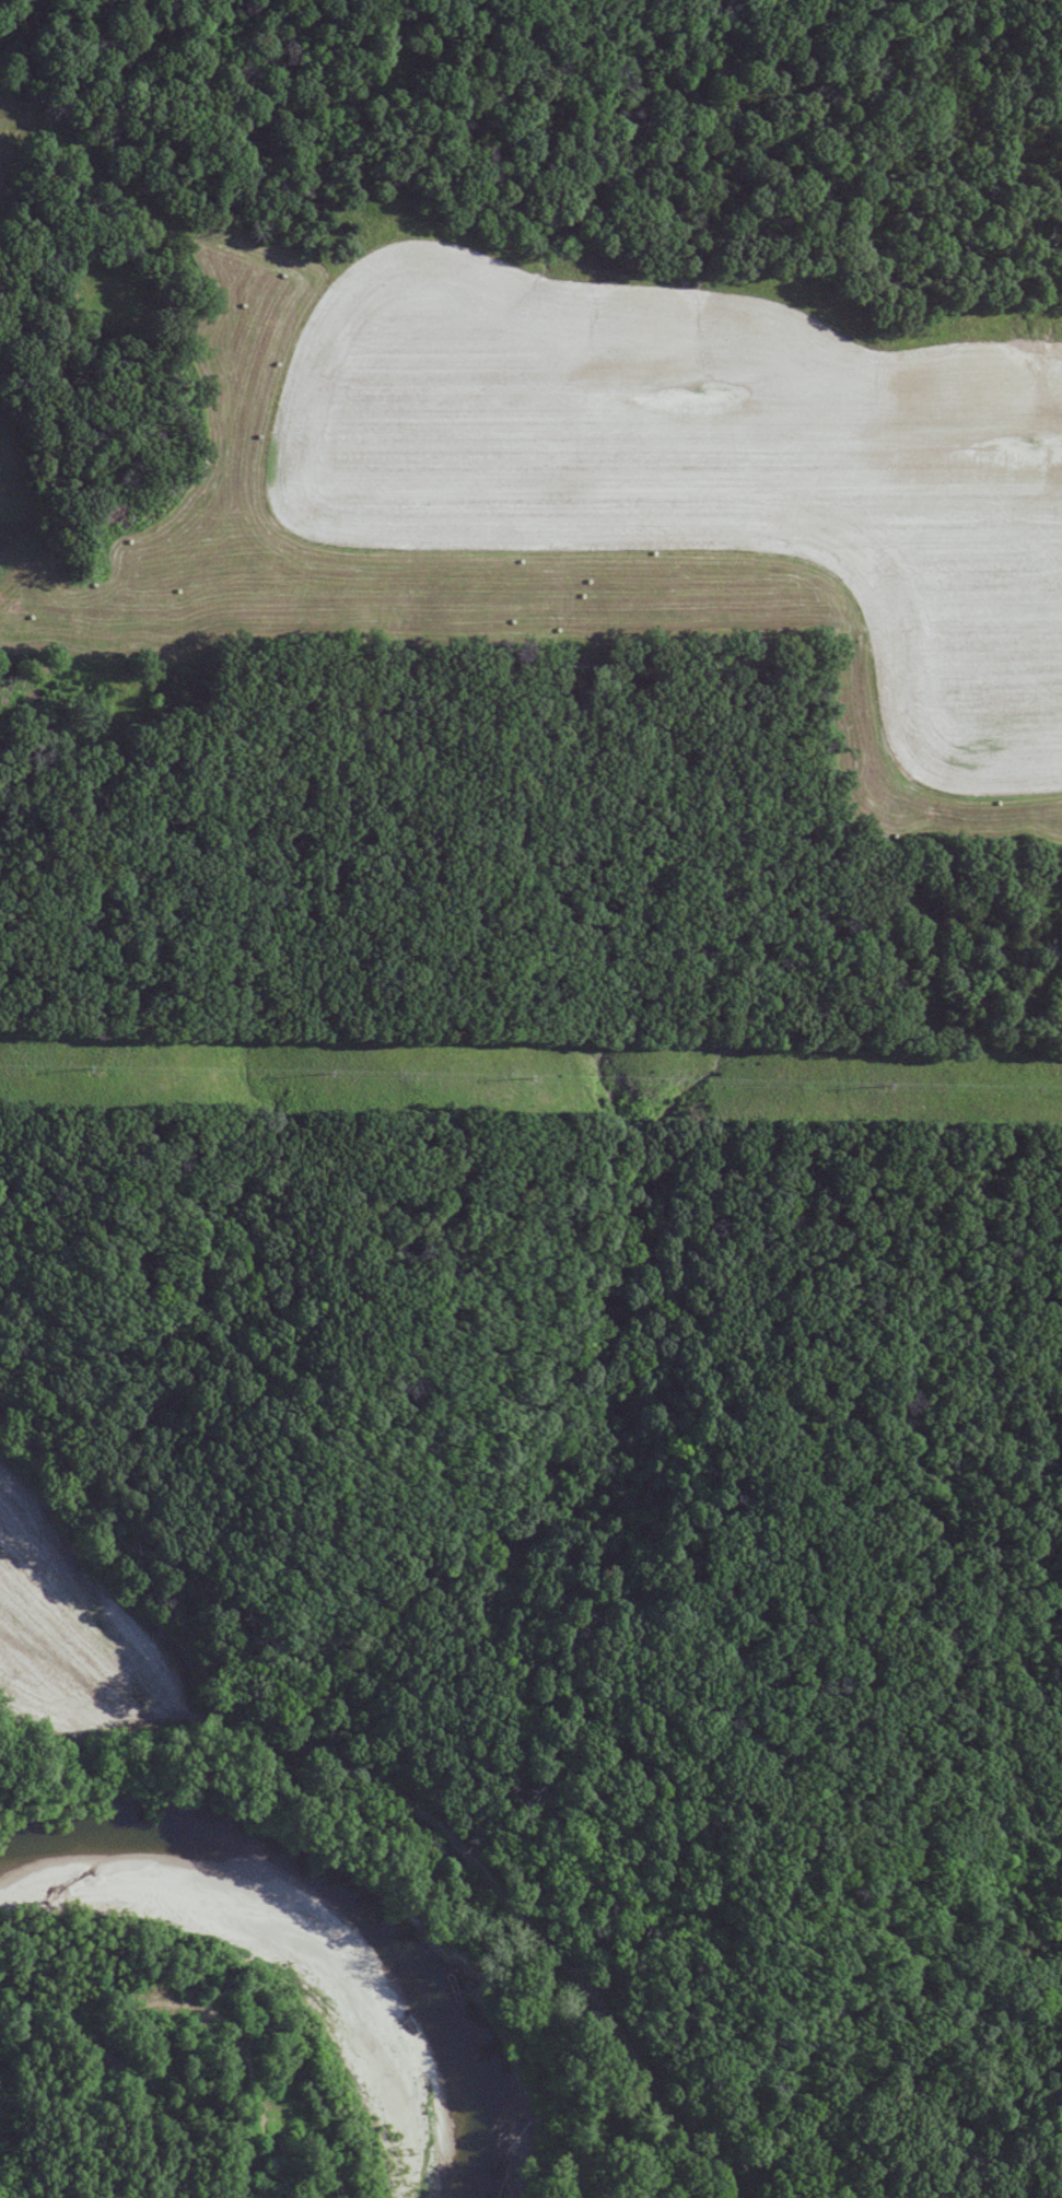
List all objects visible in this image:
river: (329, 1882)

